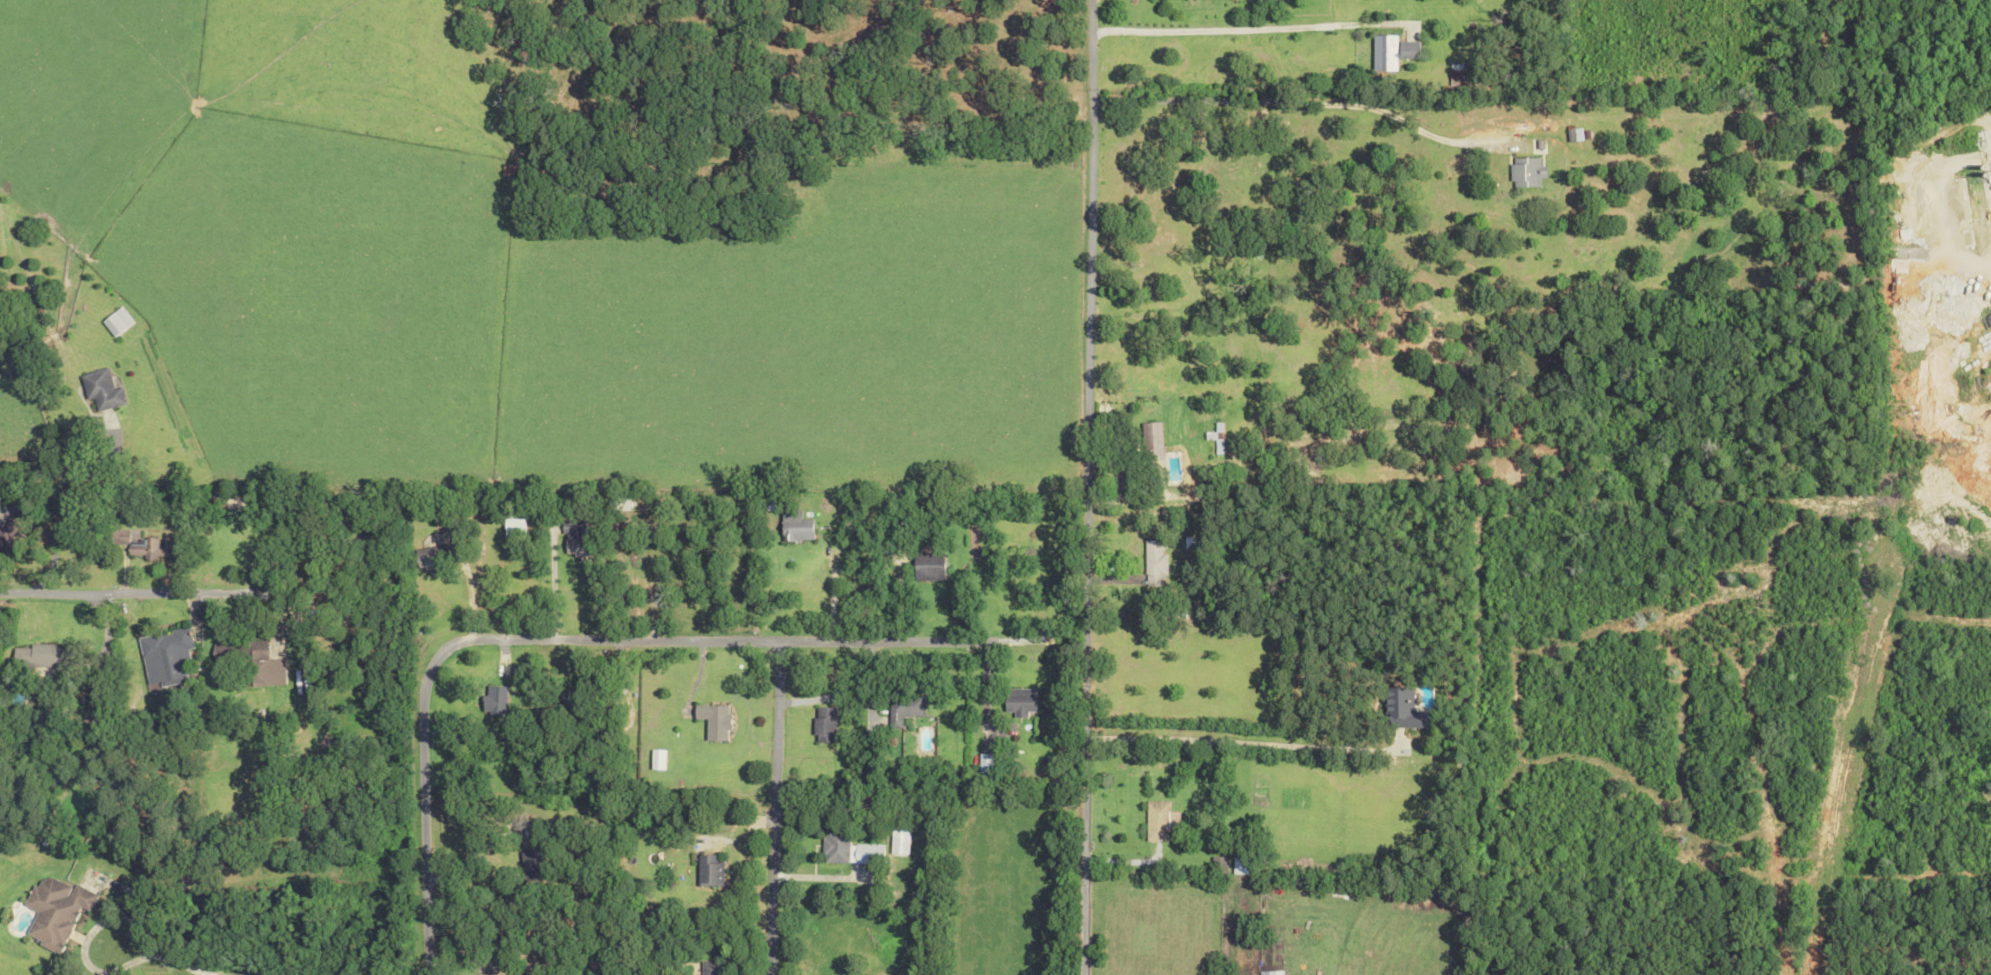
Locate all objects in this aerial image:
road: (1245, 27)
building: (1406, 49)
building: (1382, 52)
road: (1292, 102)
building: (1526, 172)
building: (113, 321)
building: (99, 389)
building: (1152, 446)
road: (43, 470)
road: (1085, 487)
building: (792, 526)
building: (566, 527)
building: (511, 528)
building: (568, 542)
building: (148, 549)
building: (429, 557)
building: (1152, 562)
building: (925, 567)
road: (547, 584)
road: (113, 590)
road: (822, 597)
road: (593, 638)
building: (163, 656)
building: (37, 657)
building: (256, 671)
building: (497, 694)
building: (1017, 701)
building: (901, 709)
building: (1400, 709)
building: (711, 721)
building: (821, 725)
road: (1222, 738)
building: (655, 760)
road: (765, 808)
building: (1158, 819)
building: (847, 849)
road: (457, 860)
building: (1241, 865)
building: (707, 869)
building: (53, 910)
road: (77, 936)
road: (184, 964)
building: (710, 968)
building: (1269, 972)

